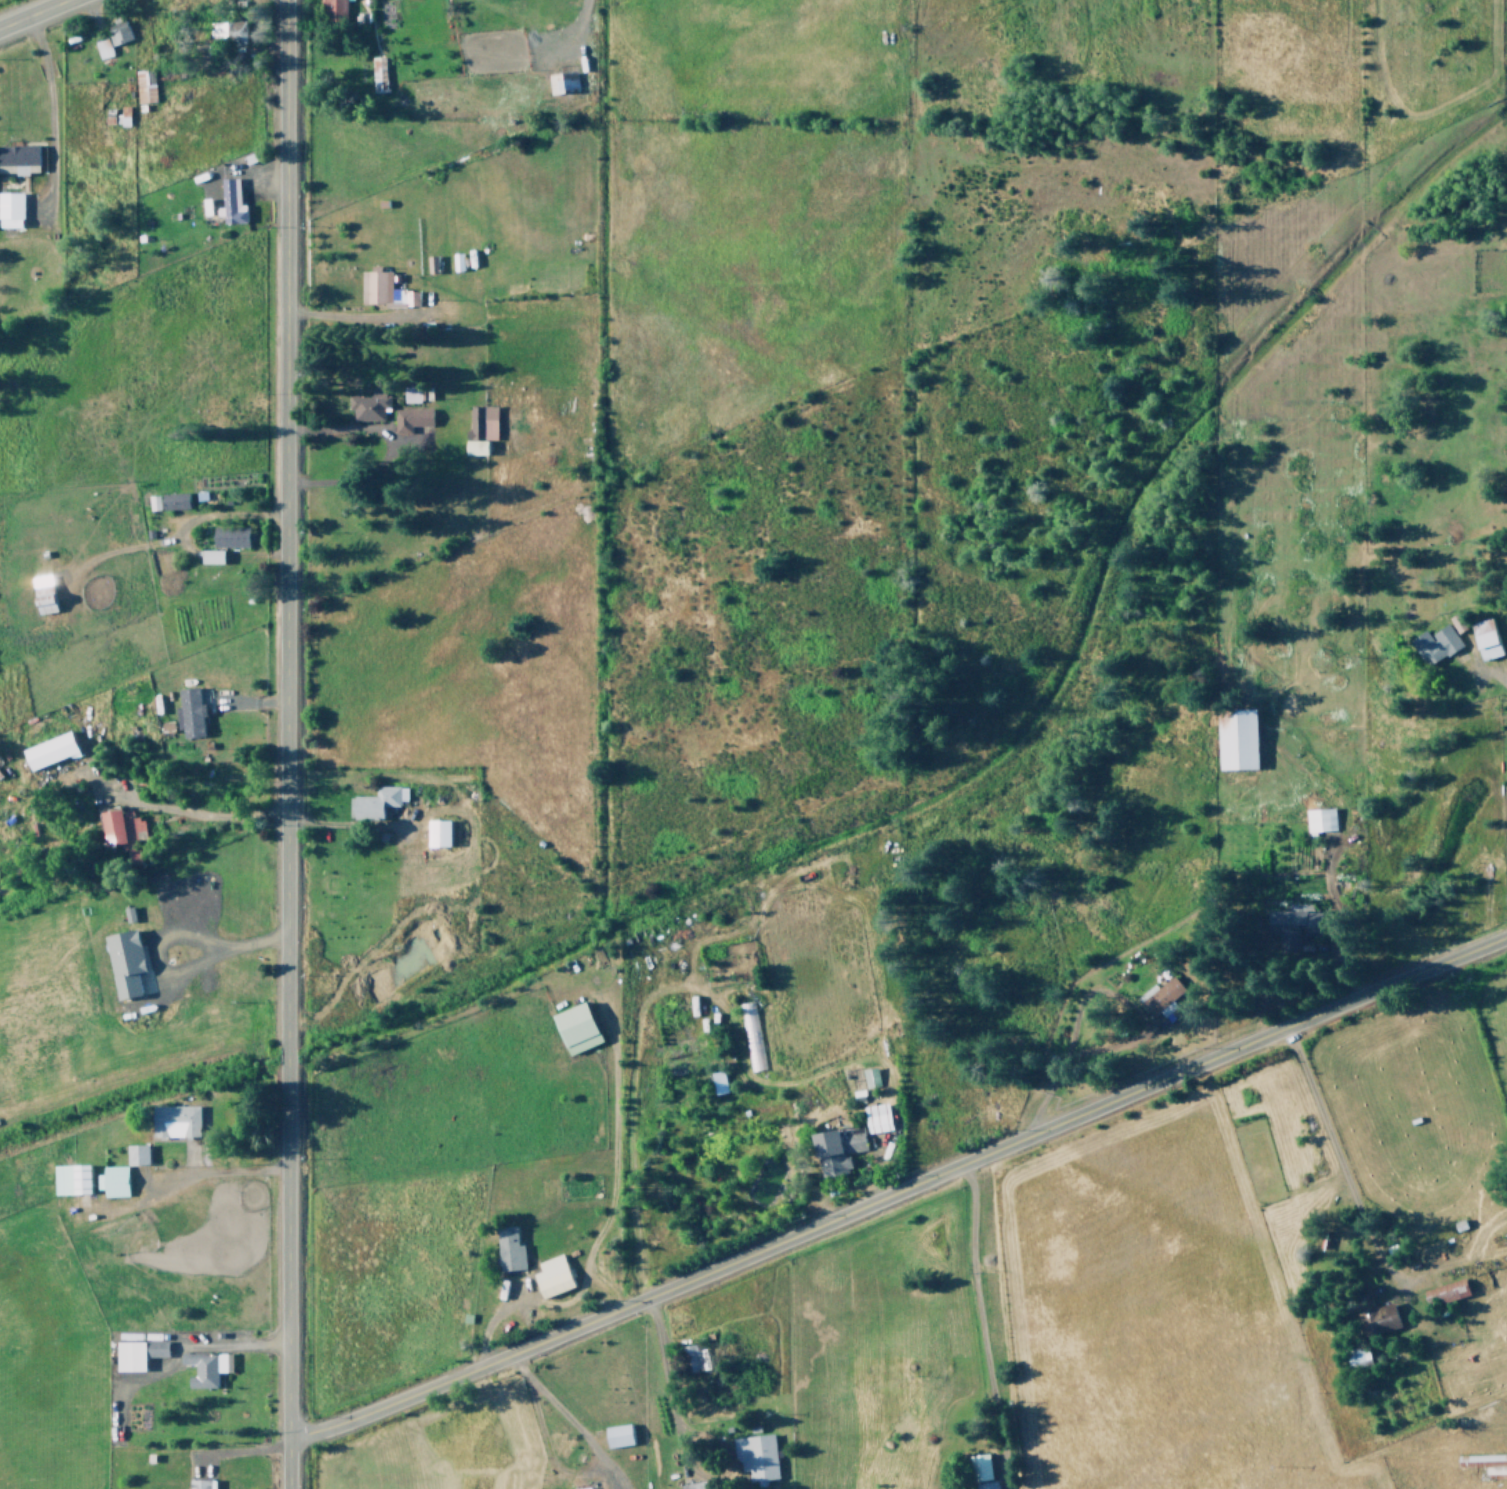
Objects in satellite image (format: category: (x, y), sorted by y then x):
building: (333, 10)
road: (33, 13)
building: (116, 30)
building: (228, 30)
building: (102, 47)
building: (377, 73)
building: (561, 80)
building: (144, 85)
building: (18, 158)
building: (230, 201)
building: (10, 209)
building: (375, 285)
building: (413, 419)
building: (479, 427)
building: (167, 500)
building: (229, 535)
building: (210, 555)
building: (42, 594)
building: (1485, 638)
building: (1434, 643)
building: (191, 710)
building: (1236, 738)
road: (283, 744)
building: (48, 750)
building: (376, 801)
road: (1506, 808)
building: (1319, 819)
building: (122, 830)
building: (437, 832)
building: (1292, 926)
building: (124, 962)
building: (1160, 997)
building: (575, 1028)
building: (870, 1076)
building: (718, 1081)
building: (877, 1117)
building: (174, 1120)
building: (837, 1148)
building: (136, 1154)
building: (70, 1179)
building: (111, 1180)
road: (898, 1188)
building: (509, 1248)
building: (551, 1276)
building: (1445, 1292)
building: (1376, 1317)
building: (136, 1350)
building: (695, 1357)
building: (205, 1368)
building: (617, 1435)
building: (755, 1456)
building: (1486, 1464)
building: (980, 1467)
building: (201, 1484)
building: (694, 1485)
building: (986, 1485)
building: (584, 1488)

